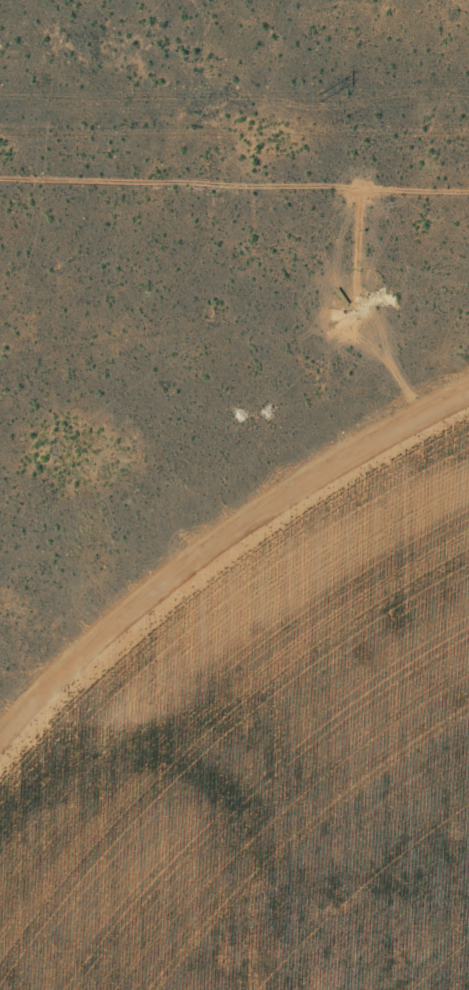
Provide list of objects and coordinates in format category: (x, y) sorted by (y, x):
power tower: (322, 98)
road: (234, 943)

